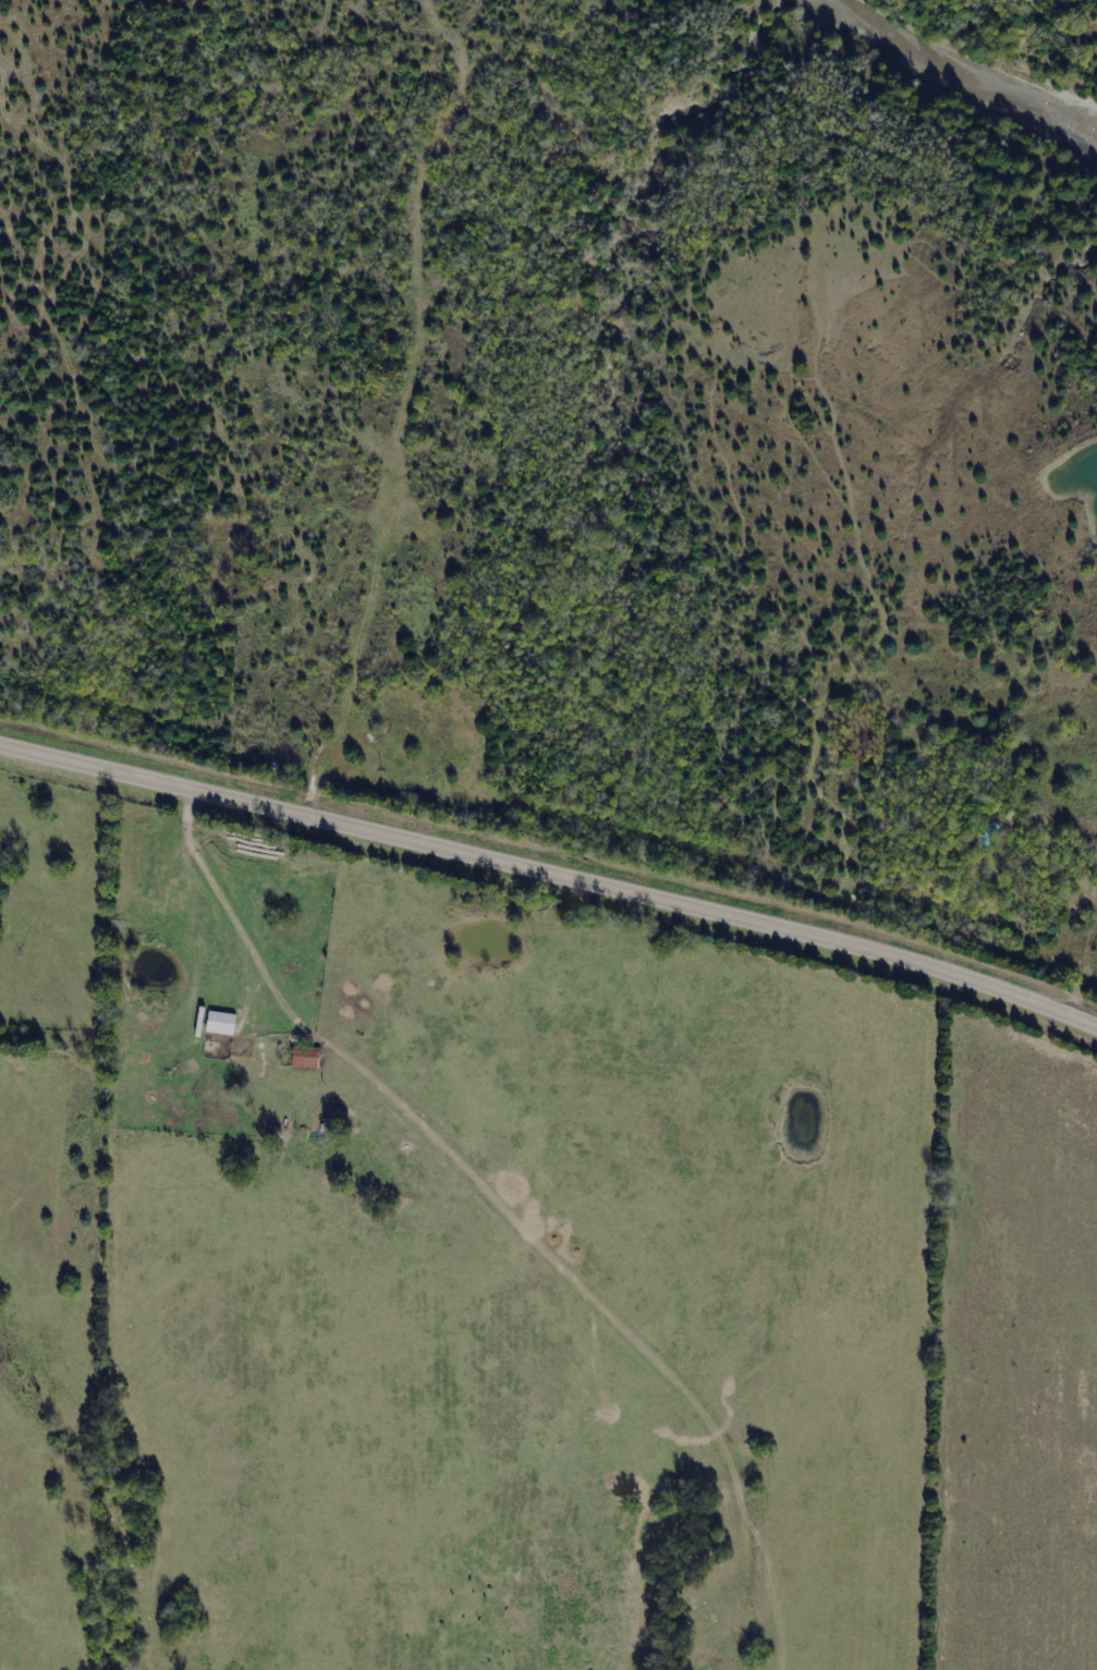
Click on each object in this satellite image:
road: (551, 868)
building: (226, 1022)
building: (309, 1056)

